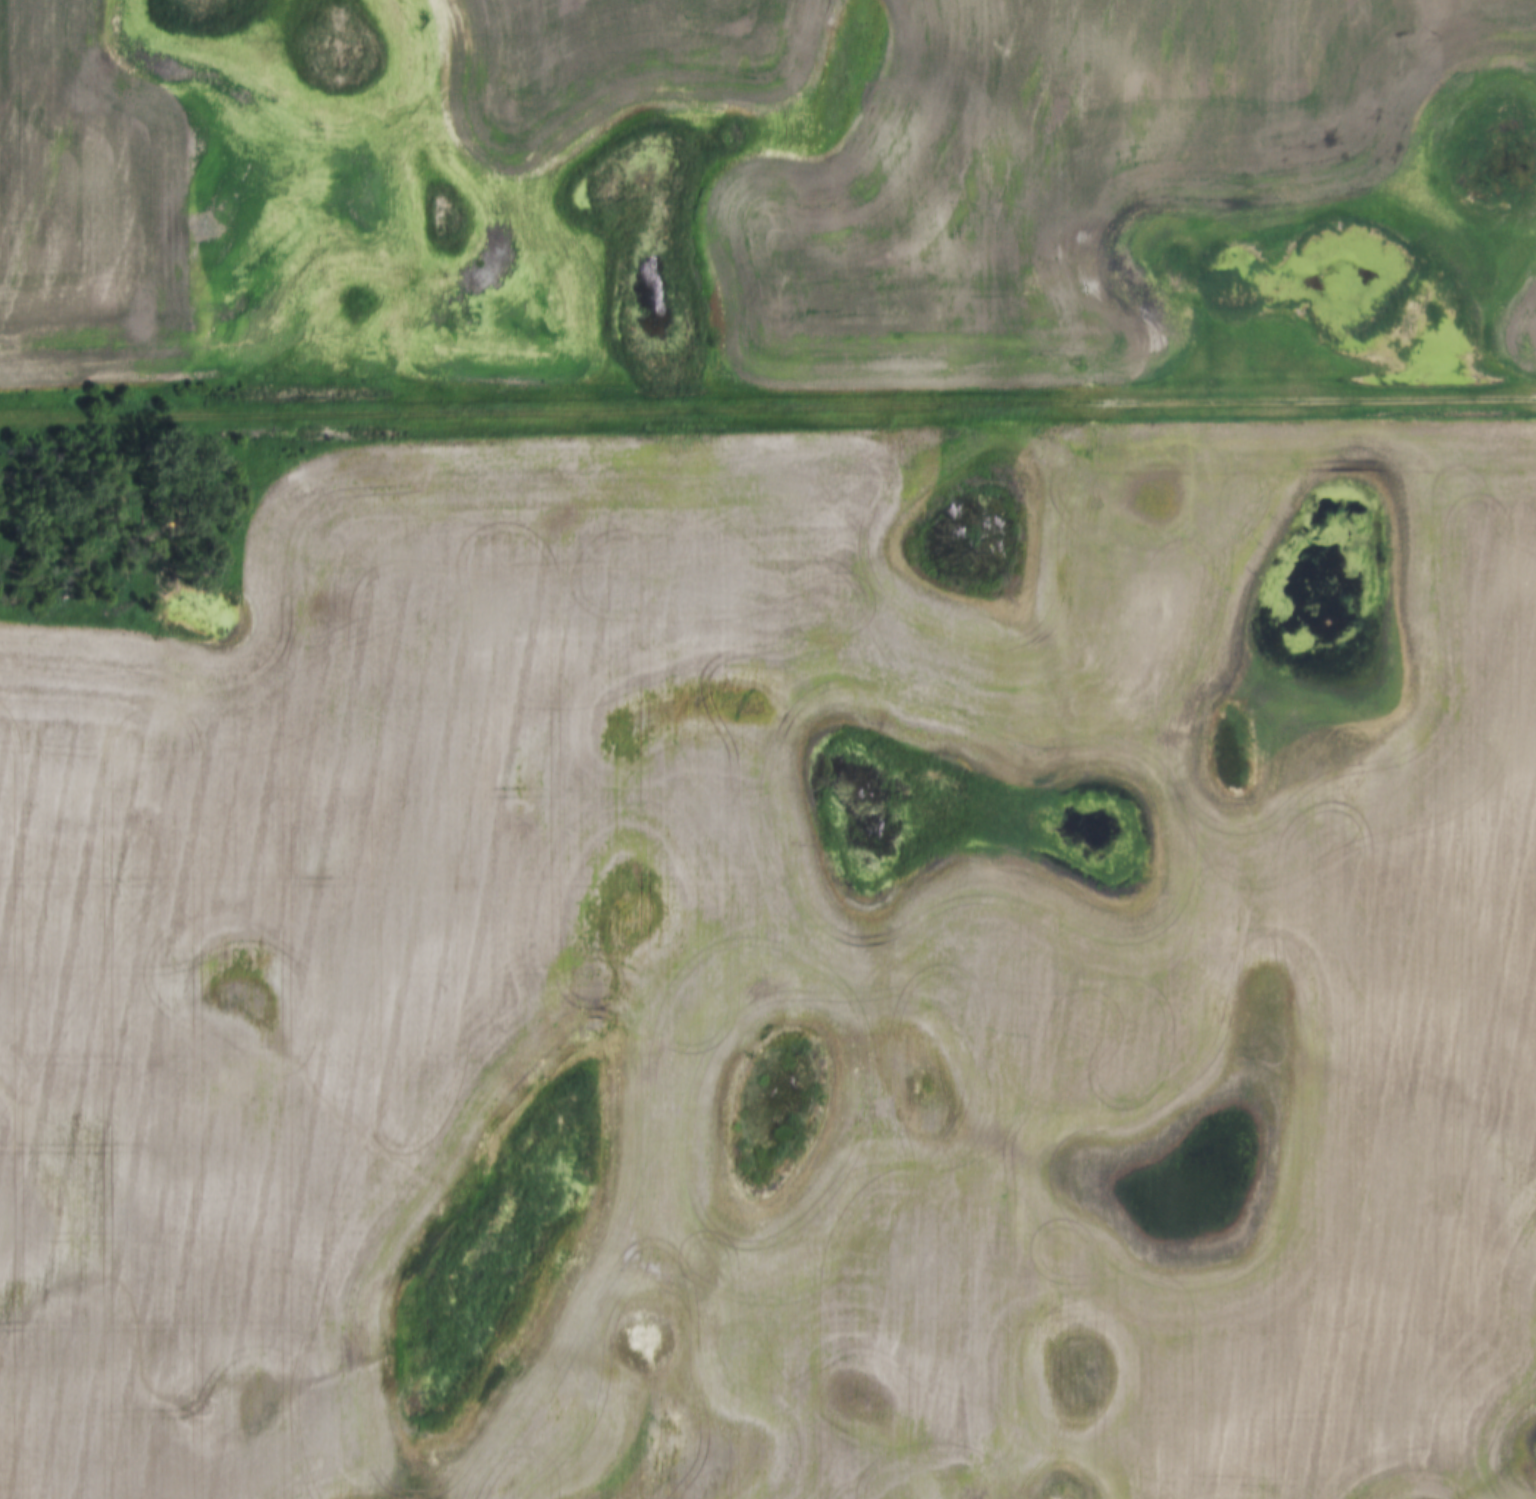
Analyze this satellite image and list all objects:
road: (768, 413)
building: (61, 789)

